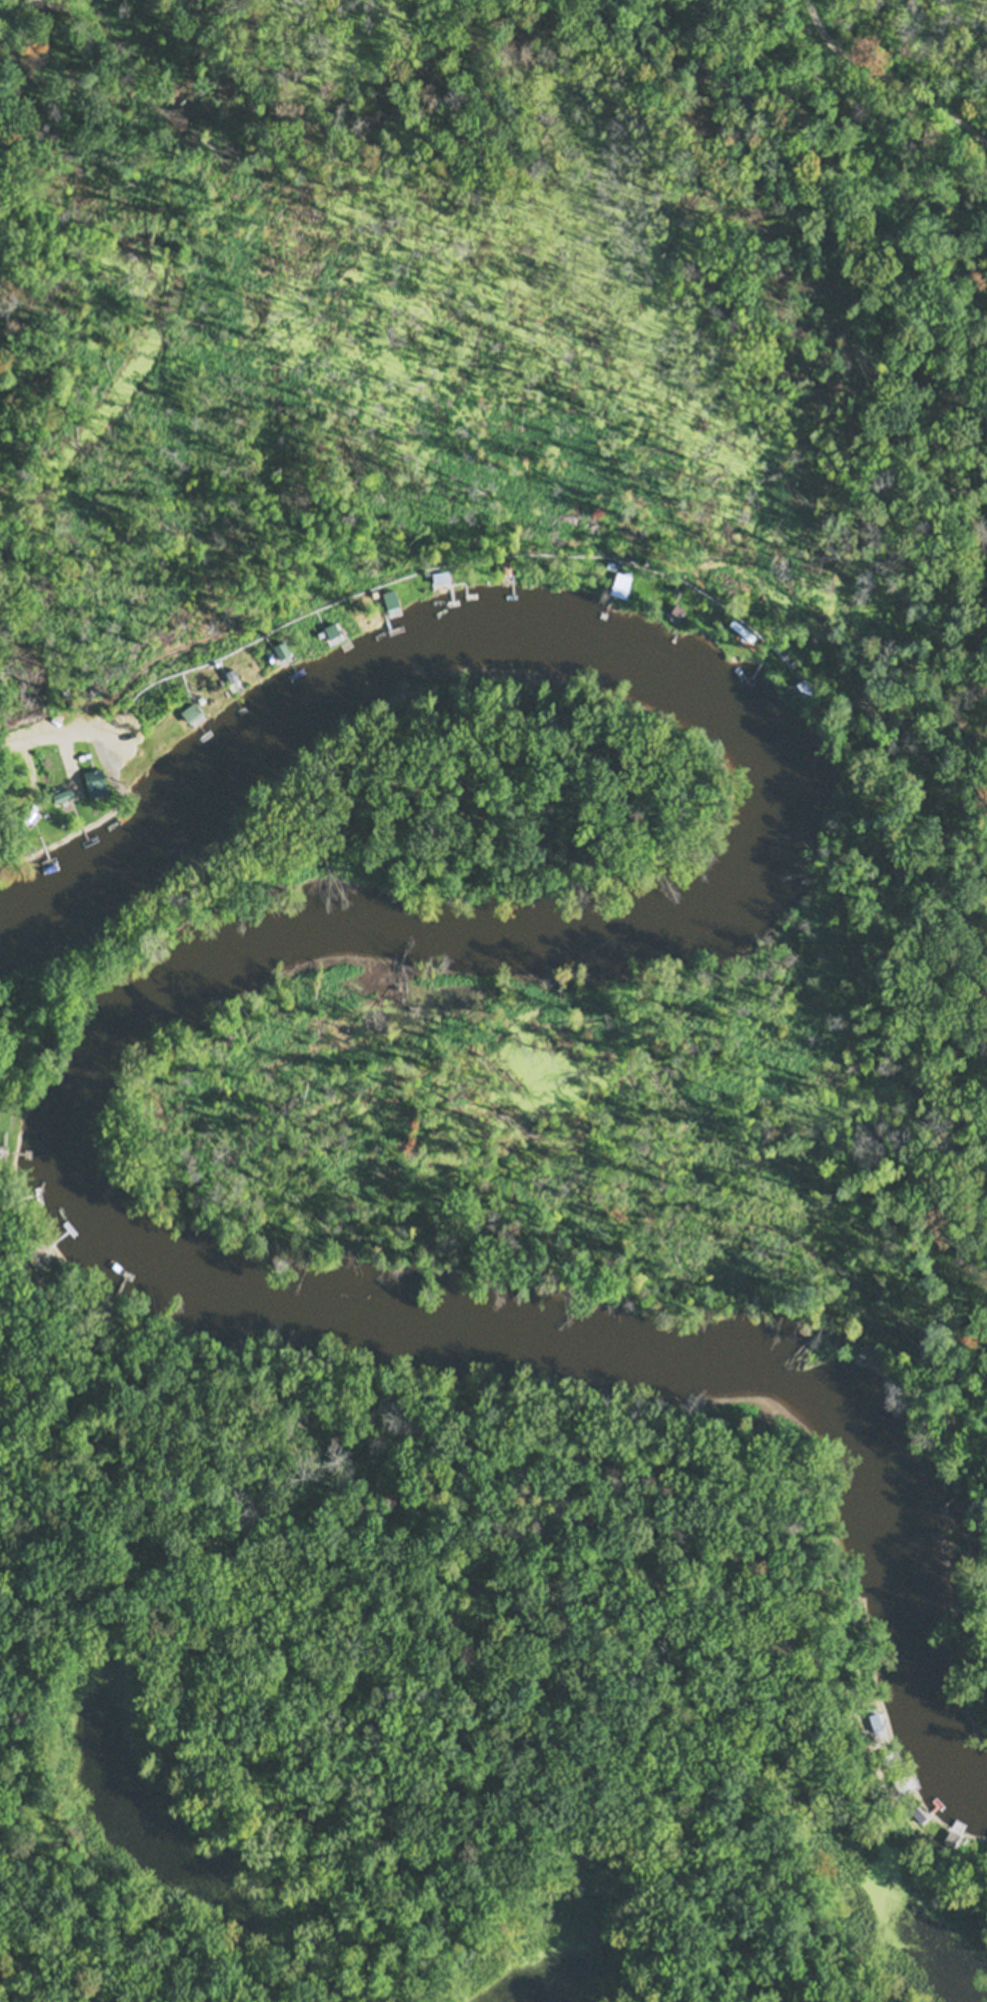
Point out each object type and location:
building: (132, 281)
building: (507, 567)
building: (441, 575)
road: (396, 576)
building: (621, 581)
building: (391, 594)
building: (676, 609)
building: (332, 627)
building: (737, 636)
building: (282, 646)
building: (234, 676)
building: (805, 684)
building: (194, 713)
building: (97, 785)
building: (63, 792)
river: (235, 958)
road: (10, 1096)
building: (36, 1255)
building: (99, 1305)
building: (866, 1347)
road: (529, 1507)
building: (853, 1611)
building: (875, 1720)
building: (886, 1758)
building: (902, 1784)
building: (918, 1813)
building: (951, 1837)
building: (986, 1851)

